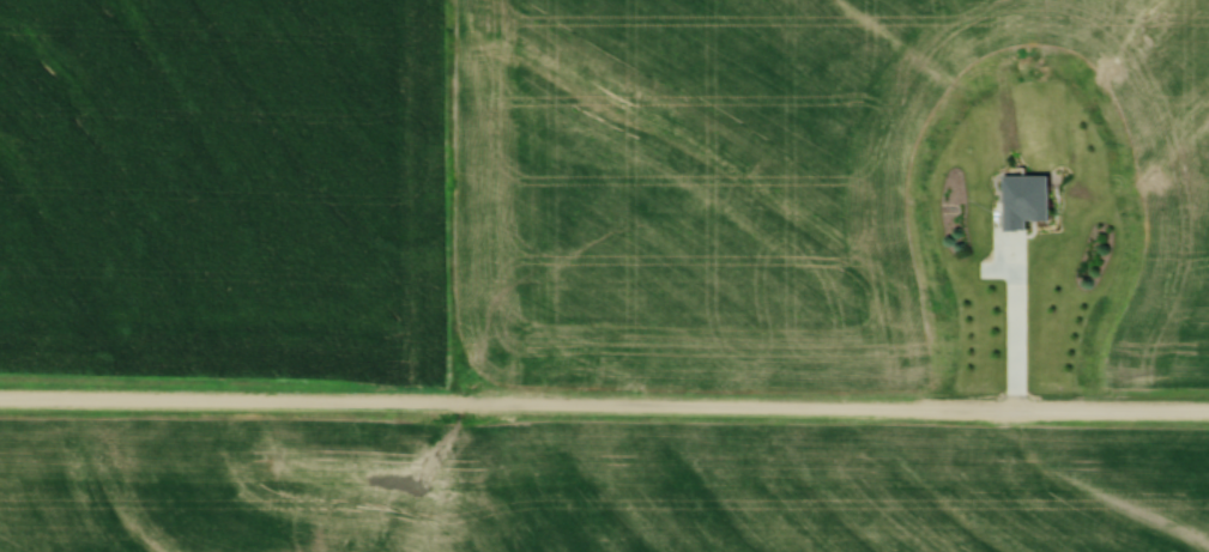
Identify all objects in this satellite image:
building: (1032, 198)
road: (604, 407)

